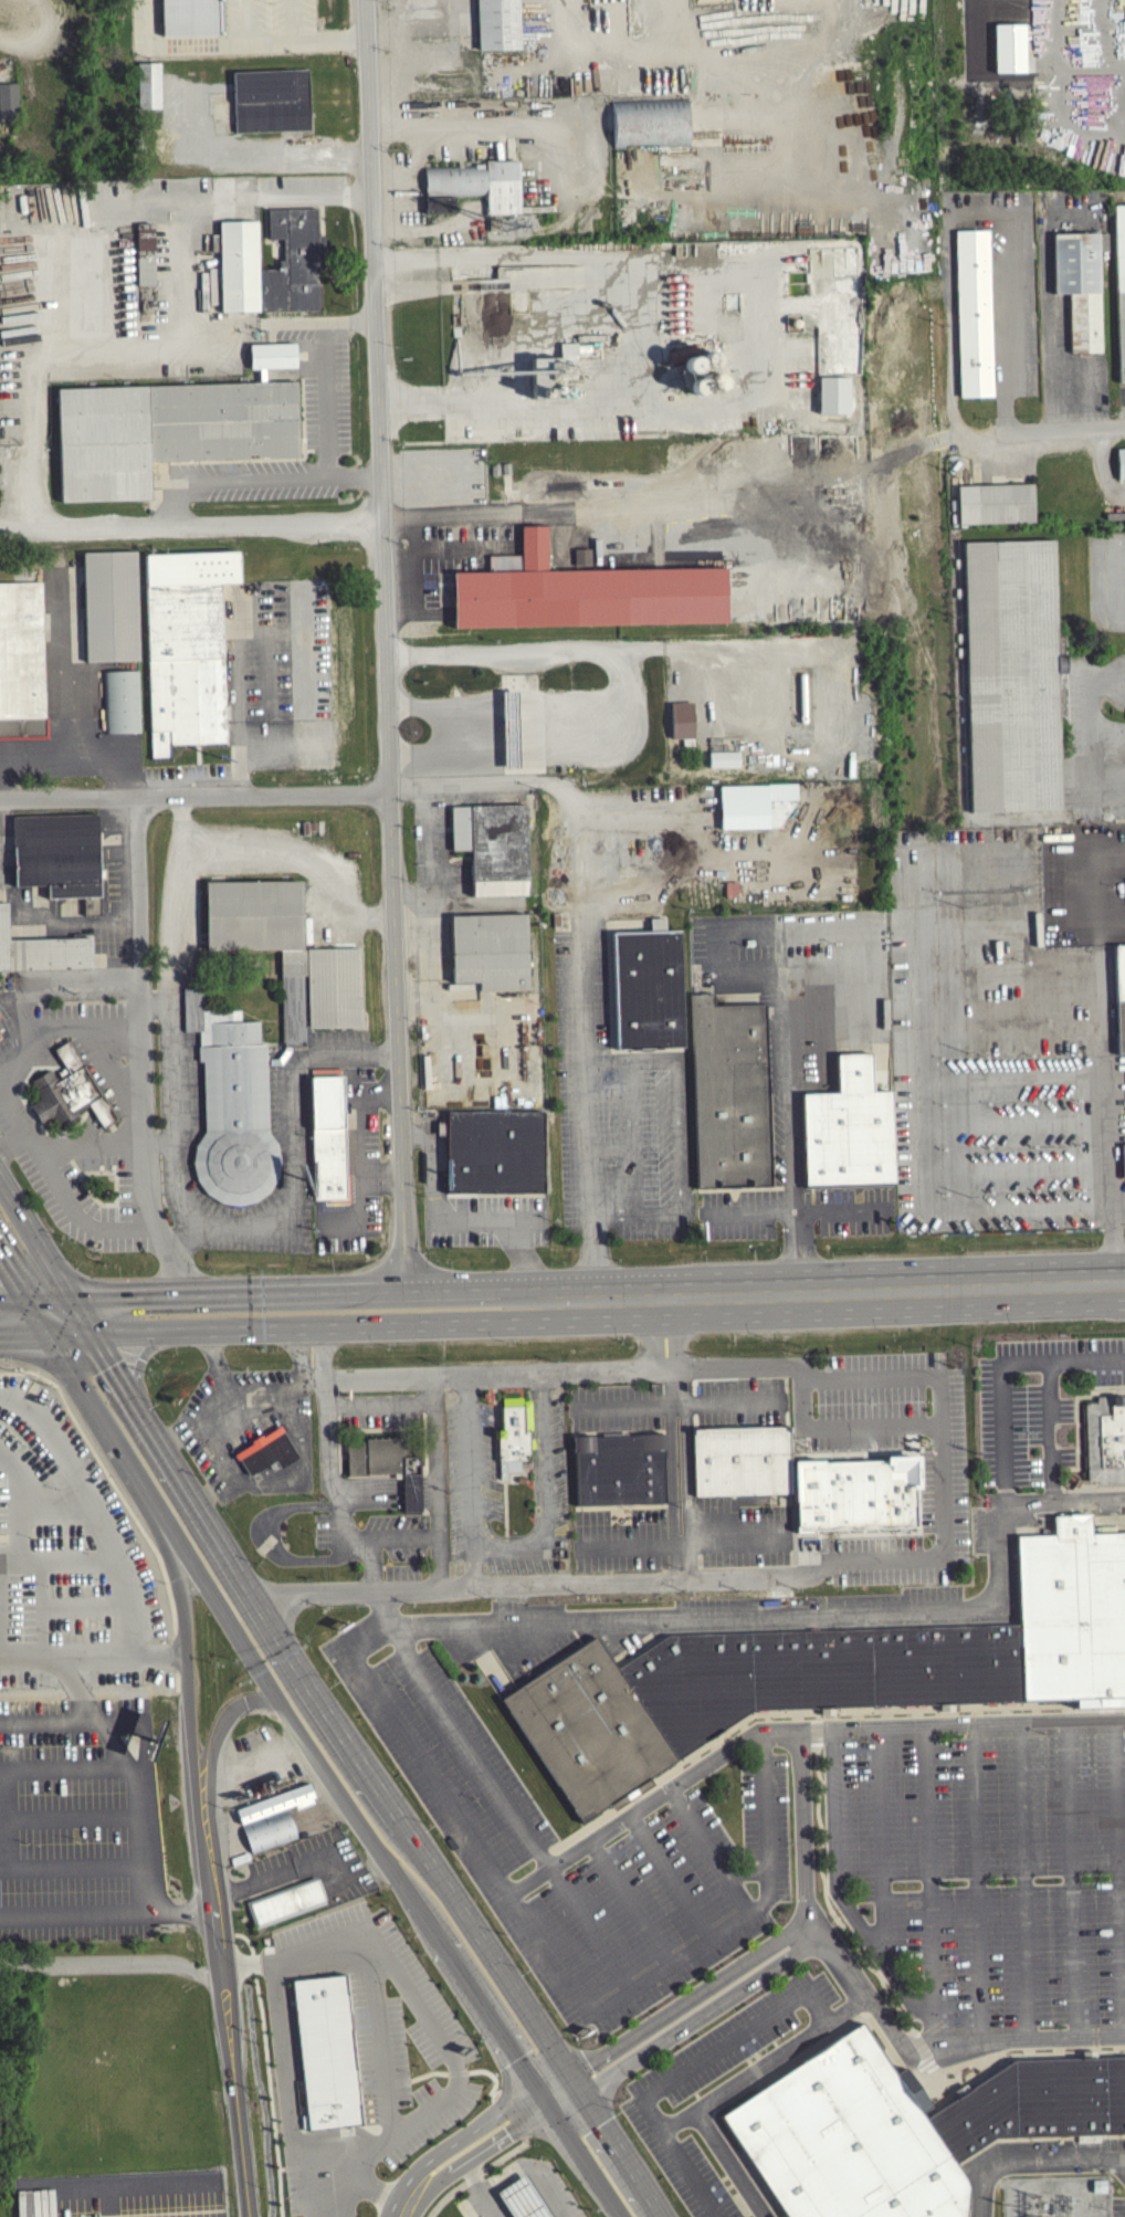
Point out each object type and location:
building: (189, 17)
road: (293, 23)
road: (243, 24)
building: (496, 27)
road: (234, 50)
building: (147, 90)
building: (272, 98)
building: (8, 104)
building: (650, 127)
building: (476, 188)
building: (438, 209)
road: (954, 216)
road: (181, 239)
building: (144, 258)
building: (293, 260)
building: (239, 265)
road: (639, 269)
building: (1119, 282)
building: (1080, 285)
building: (974, 311)
building: (272, 354)
building: (566, 357)
building: (697, 366)
road: (38, 369)
road: (324, 371)
parking lot: (327, 400)
road: (589, 420)
road: (1060, 428)
building: (166, 430)
road: (1101, 465)
building: (1119, 466)
road: (253, 477)
building: (997, 503)
road: (599, 506)
road: (190, 524)
building: (461, 550)
building: (582, 555)
parking lot: (449, 557)
building: (582, 590)
building: (107, 612)
road: (385, 644)
building: (186, 645)
building: (1060, 666)
building: (20, 669)
road: (61, 672)
building: (1012, 673)
road: (302, 680)
parking lot: (272, 682)
road: (236, 689)
building: (119, 707)
building: (680, 724)
road: (270, 729)
road: (1093, 735)
road: (76, 758)
building: (722, 764)
road: (192, 778)
road: (194, 795)
building: (754, 811)
building: (494, 845)
road: (318, 848)
building: (57, 852)
road: (422, 865)
road: (712, 874)
road: (472, 907)
road: (177, 914)
road: (56, 924)
building: (41, 949)
building: (490, 949)
building: (286, 952)
road: (586, 955)
road: (70, 975)
road: (753, 978)
building: (648, 988)
building: (1118, 1000)
road: (3, 1001)
road: (175, 1010)
road: (15, 1019)
building: (1, 1025)
road: (83, 1026)
road: (141, 1047)
road: (340, 1050)
road: (627, 1059)
road: (1103, 1060)
road: (19, 1061)
building: (69, 1091)
building: (729, 1091)
road: (923, 1091)
building: (231, 1104)
building: (849, 1128)
road: (416, 1133)
road: (677, 1134)
parking lot: (179, 1137)
building: (328, 1139)
road: (160, 1141)
road: (83, 1143)
road: (177, 1143)
road: (11, 1145)
building: (494, 1149)
road: (355, 1152)
road: (631, 1157)
building: (1122, 1165)
parking lot: (355, 1174)
road: (378, 1175)
road: (293, 1194)
road: (60, 1196)
road: (798, 1208)
road: (1116, 1208)
road: (651, 1211)
parking lot: (485, 1218)
road: (443, 1219)
road: (46, 1257)
road: (524, 1259)
road: (78, 1275)
road: (298, 1288)
road: (32, 1289)
traffic signals: (66, 1289)
traffic signals: (14, 1290)
road: (826, 1294)
road: (23, 1302)
road: (265, 1330)
traffic signals: (91, 1336)
traffic signals: (50, 1337)
road: (45, 1360)
road: (136, 1365)
road: (525, 1370)
road: (1002, 1374)
road: (292, 1383)
road: (212, 1398)
road: (938, 1398)
road: (706, 1402)
road: (624, 1404)
road: (673, 1404)
road: (378, 1409)
road: (107, 1425)
road: (840, 1428)
road: (1049, 1431)
building: (512, 1439)
building: (1105, 1439)
building: (266, 1449)
building: (386, 1464)
building: (739, 1465)
building: (619, 1471)
road: (435, 1479)
road: (466, 1479)
road: (275, 1482)
road: (545, 1492)
building: (853, 1499)
road: (338, 1503)
road: (15, 1521)
road: (168, 1531)
road: (261, 1537)
road: (732, 1538)
road: (645, 1541)
road: (368, 1562)
road: (525, 1584)
road: (386, 1605)
building: (1070, 1611)
road: (798, 1615)
road: (83, 1657)
road: (29, 1658)
road: (181, 1663)
building: (737, 1693)
road: (102, 1721)
road: (50, 1722)
road: (793, 1729)
road: (220, 1730)
parking lot: (76, 1753)
road: (69, 1766)
road: (1, 1768)
road: (369, 1780)
building: (276, 1801)
road: (509, 1804)
road: (99, 1818)
building: (269, 1830)
parking lot: (497, 1831)
road: (880, 1840)
road: (709, 1848)
road: (70, 1863)
road: (745, 1870)
road: (278, 1871)
parking lot: (985, 1871)
road: (929, 1872)
parking lot: (81, 1873)
road: (671, 1874)
road: (1116, 1875)
road: (402, 1878)
road: (1071, 1878)
road: (1024, 1879)
road: (976, 1881)
road: (844, 1900)
building: (285, 1901)
road: (630, 1901)
road: (832, 1911)
road: (107, 1912)
road: (114, 1968)
road: (560, 1972)
road: (688, 1995)
road: (866, 1996)
road: (419, 2011)
road: (227, 2014)
road: (700, 2016)
building: (326, 2049)
traffic signals: (516, 2058)
traffic signals: (588, 2059)
road: (267, 2061)
road: (764, 2061)
road: (683, 2071)
parking lot: (661, 2089)
road: (288, 2091)
road: (482, 2123)
traffic signals: (600, 2123)
building: (903, 2127)
traffic signals: (511, 2135)
road: (498, 2142)
road: (1028, 2154)
road: (335, 2158)
road: (729, 2162)
road: (479, 2172)
road: (365, 2188)
road: (477, 2190)
power substation: (1055, 2196)
building: (518, 2202)
road: (408, 2203)

